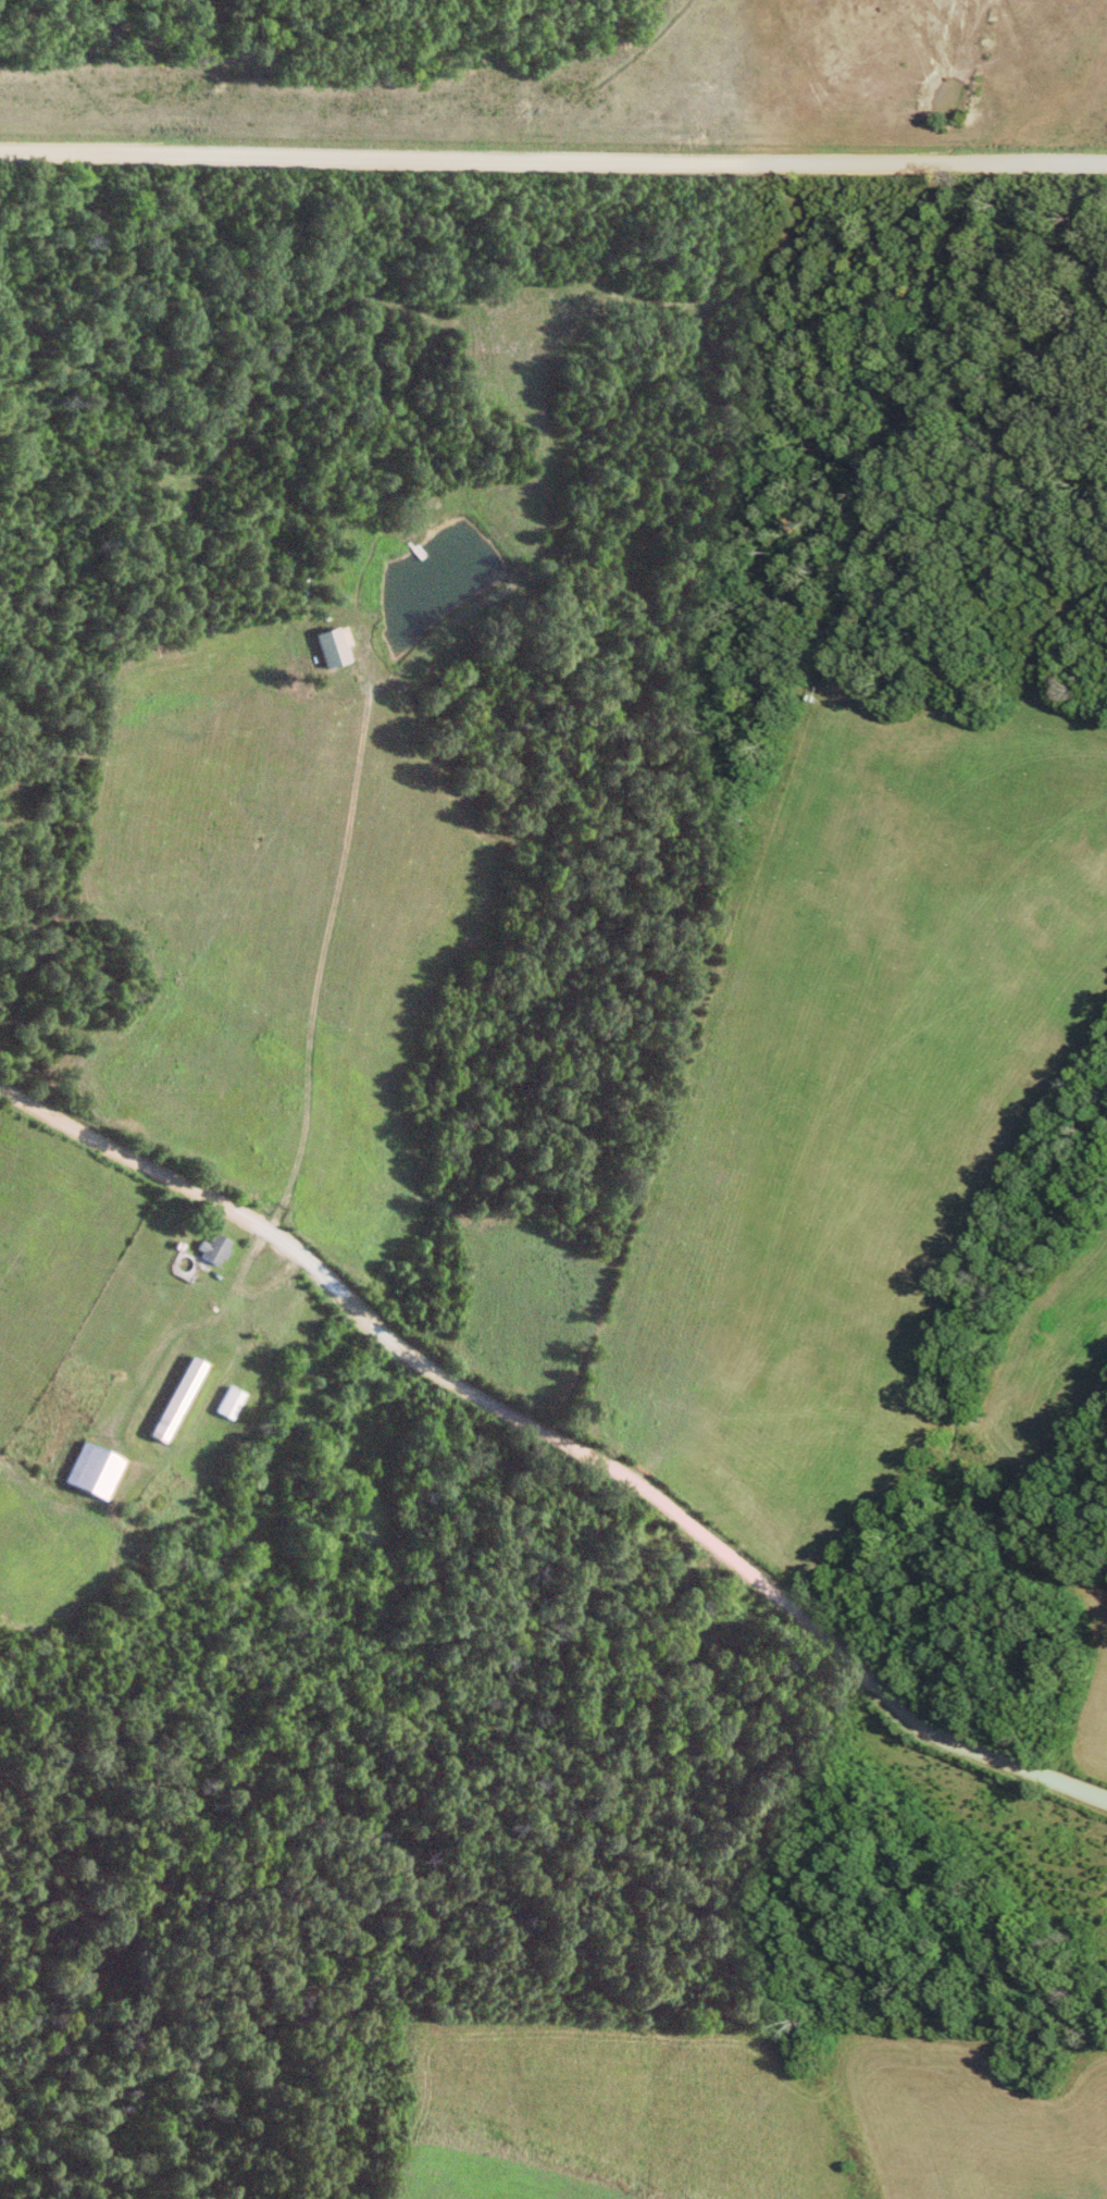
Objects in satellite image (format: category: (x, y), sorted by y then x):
road: (552, 163)
building: (339, 650)
building: (217, 1248)
road: (200, 1333)
building: (184, 1399)
building: (233, 1403)
road: (558, 1440)
building: (99, 1470)

